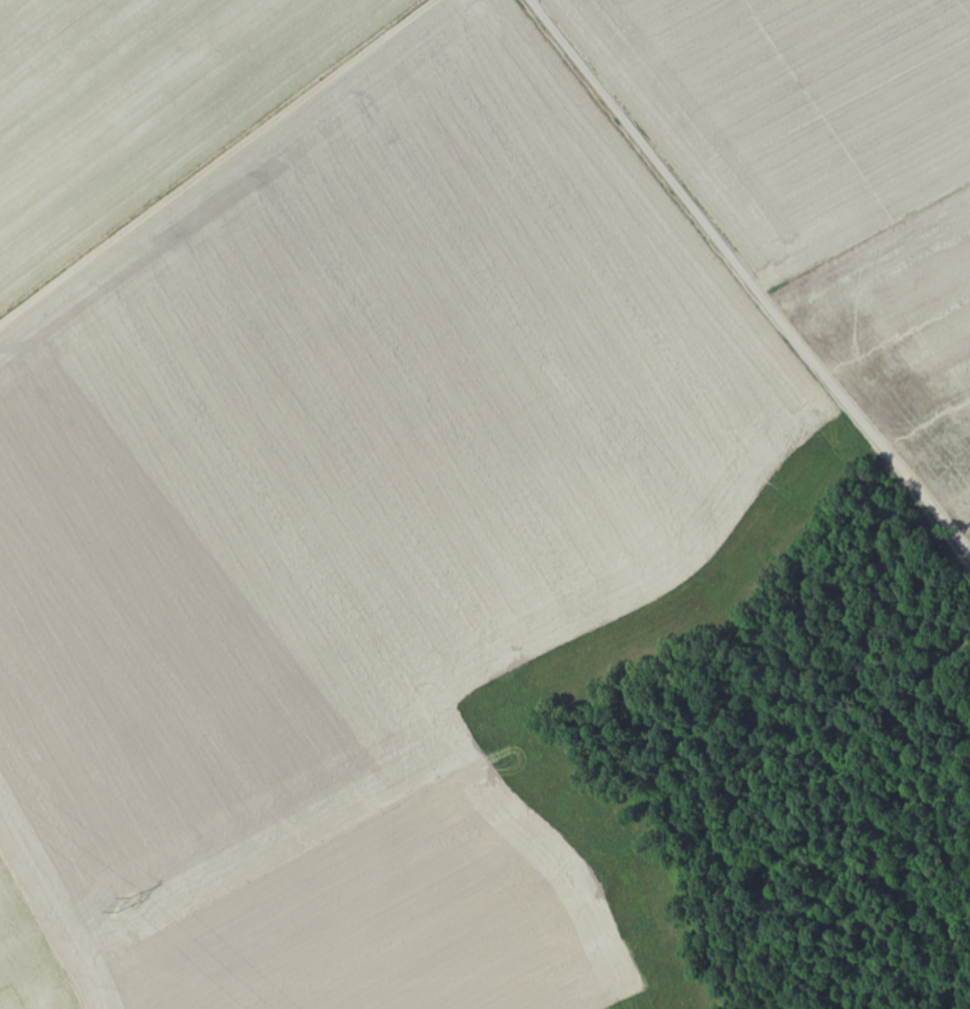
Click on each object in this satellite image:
road: (748, 277)
power tower: (122, 905)

